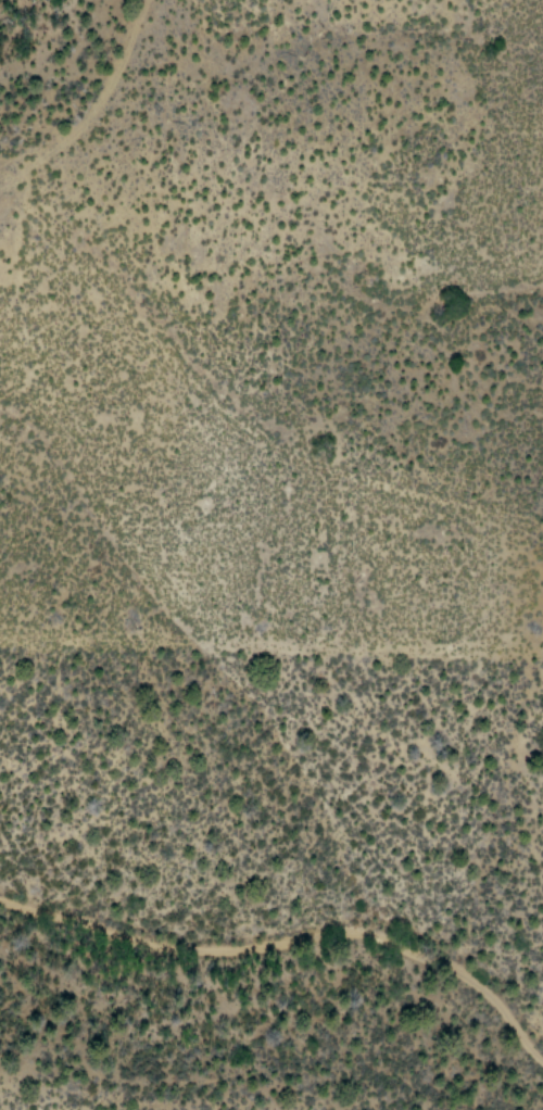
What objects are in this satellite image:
road: (295, 942)

